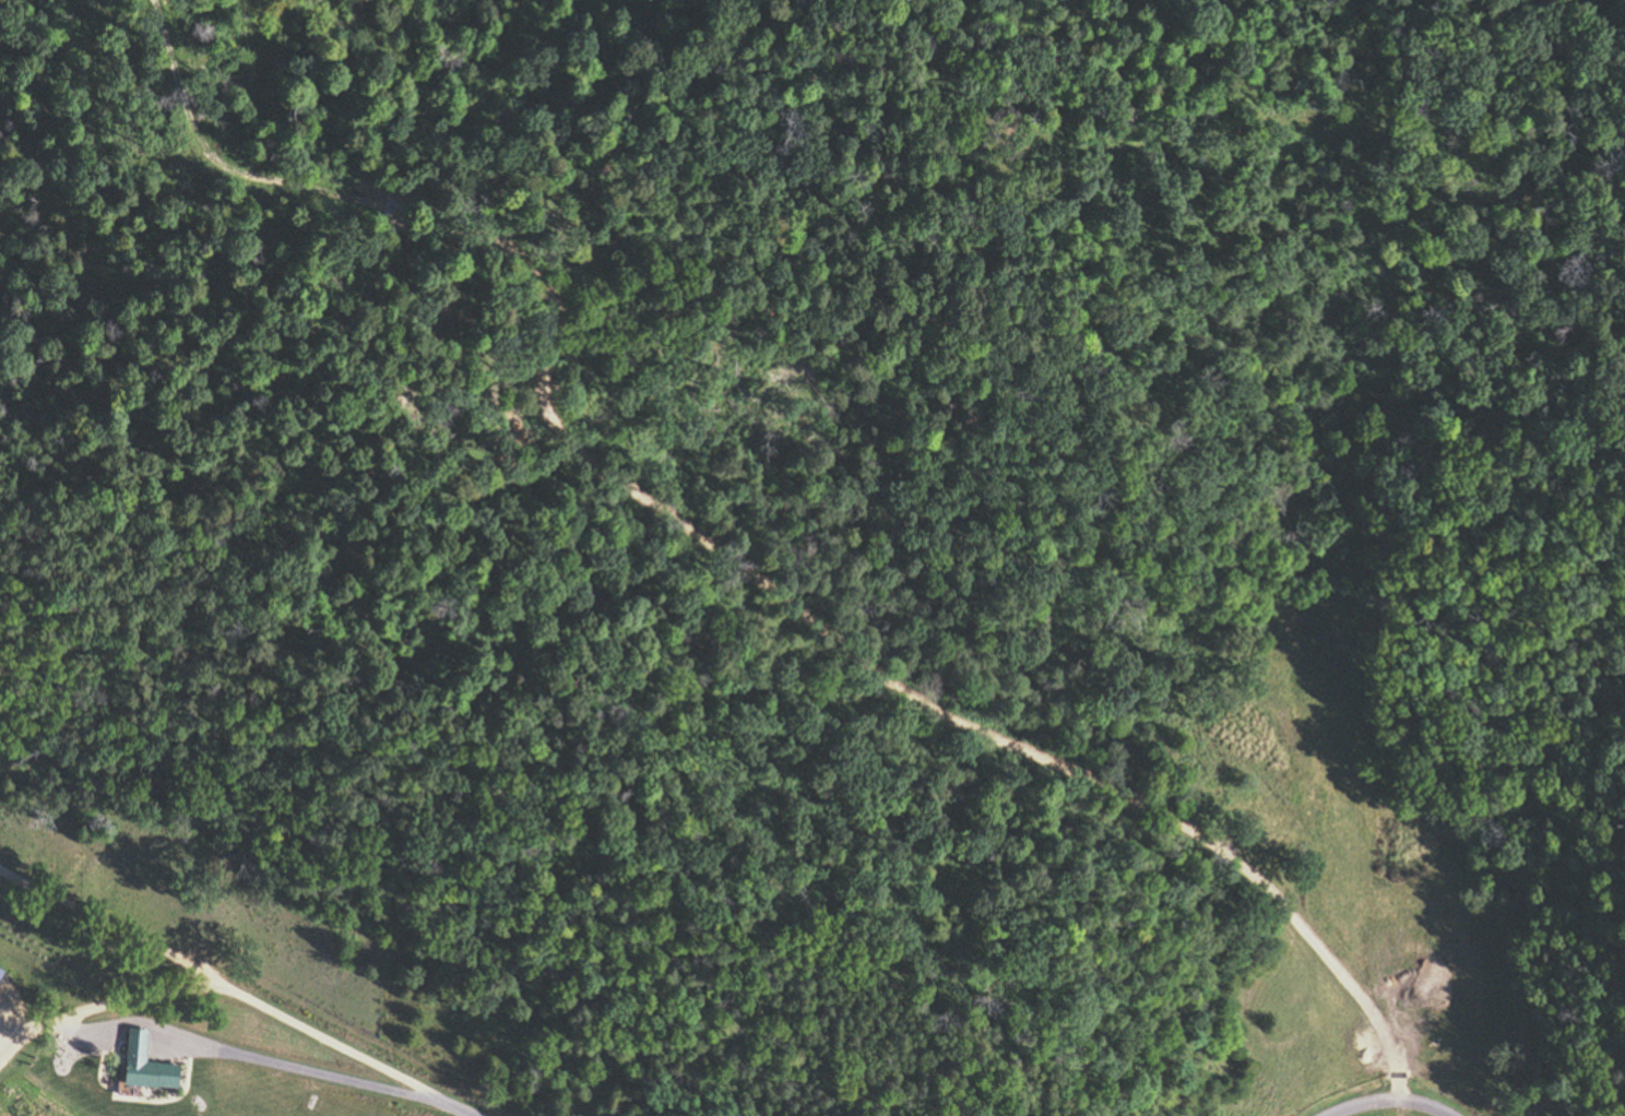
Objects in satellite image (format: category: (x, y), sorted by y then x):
building: (2, 994)
road: (272, 1010)
building: (141, 1066)
building: (55, 1083)

